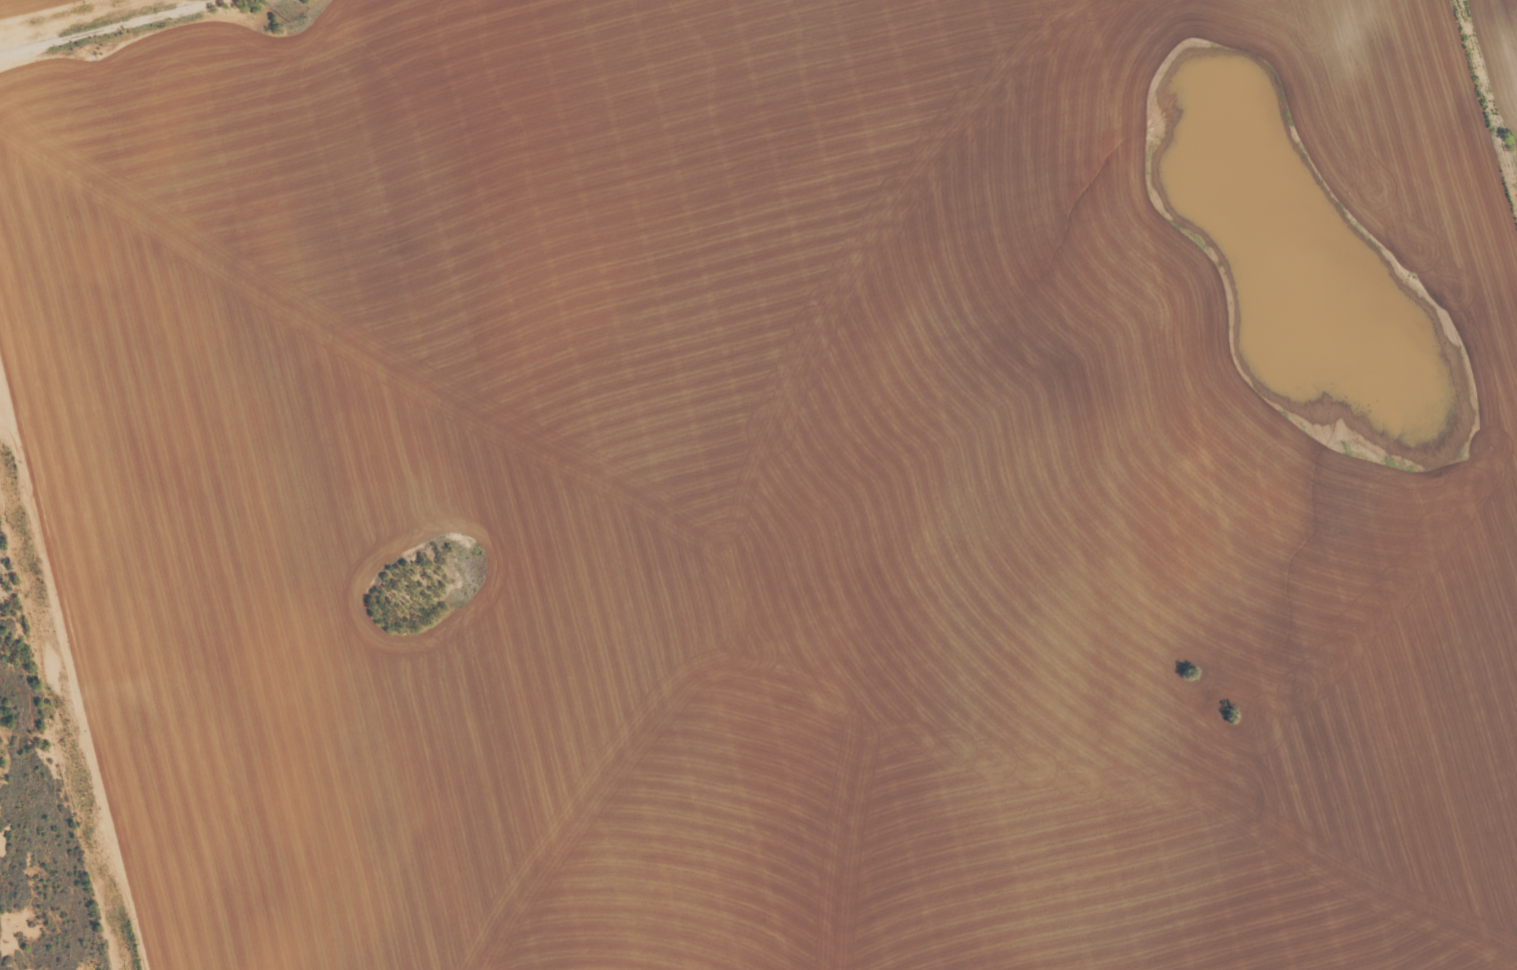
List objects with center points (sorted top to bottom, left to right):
road: (98, 29)
road: (437, 485)

